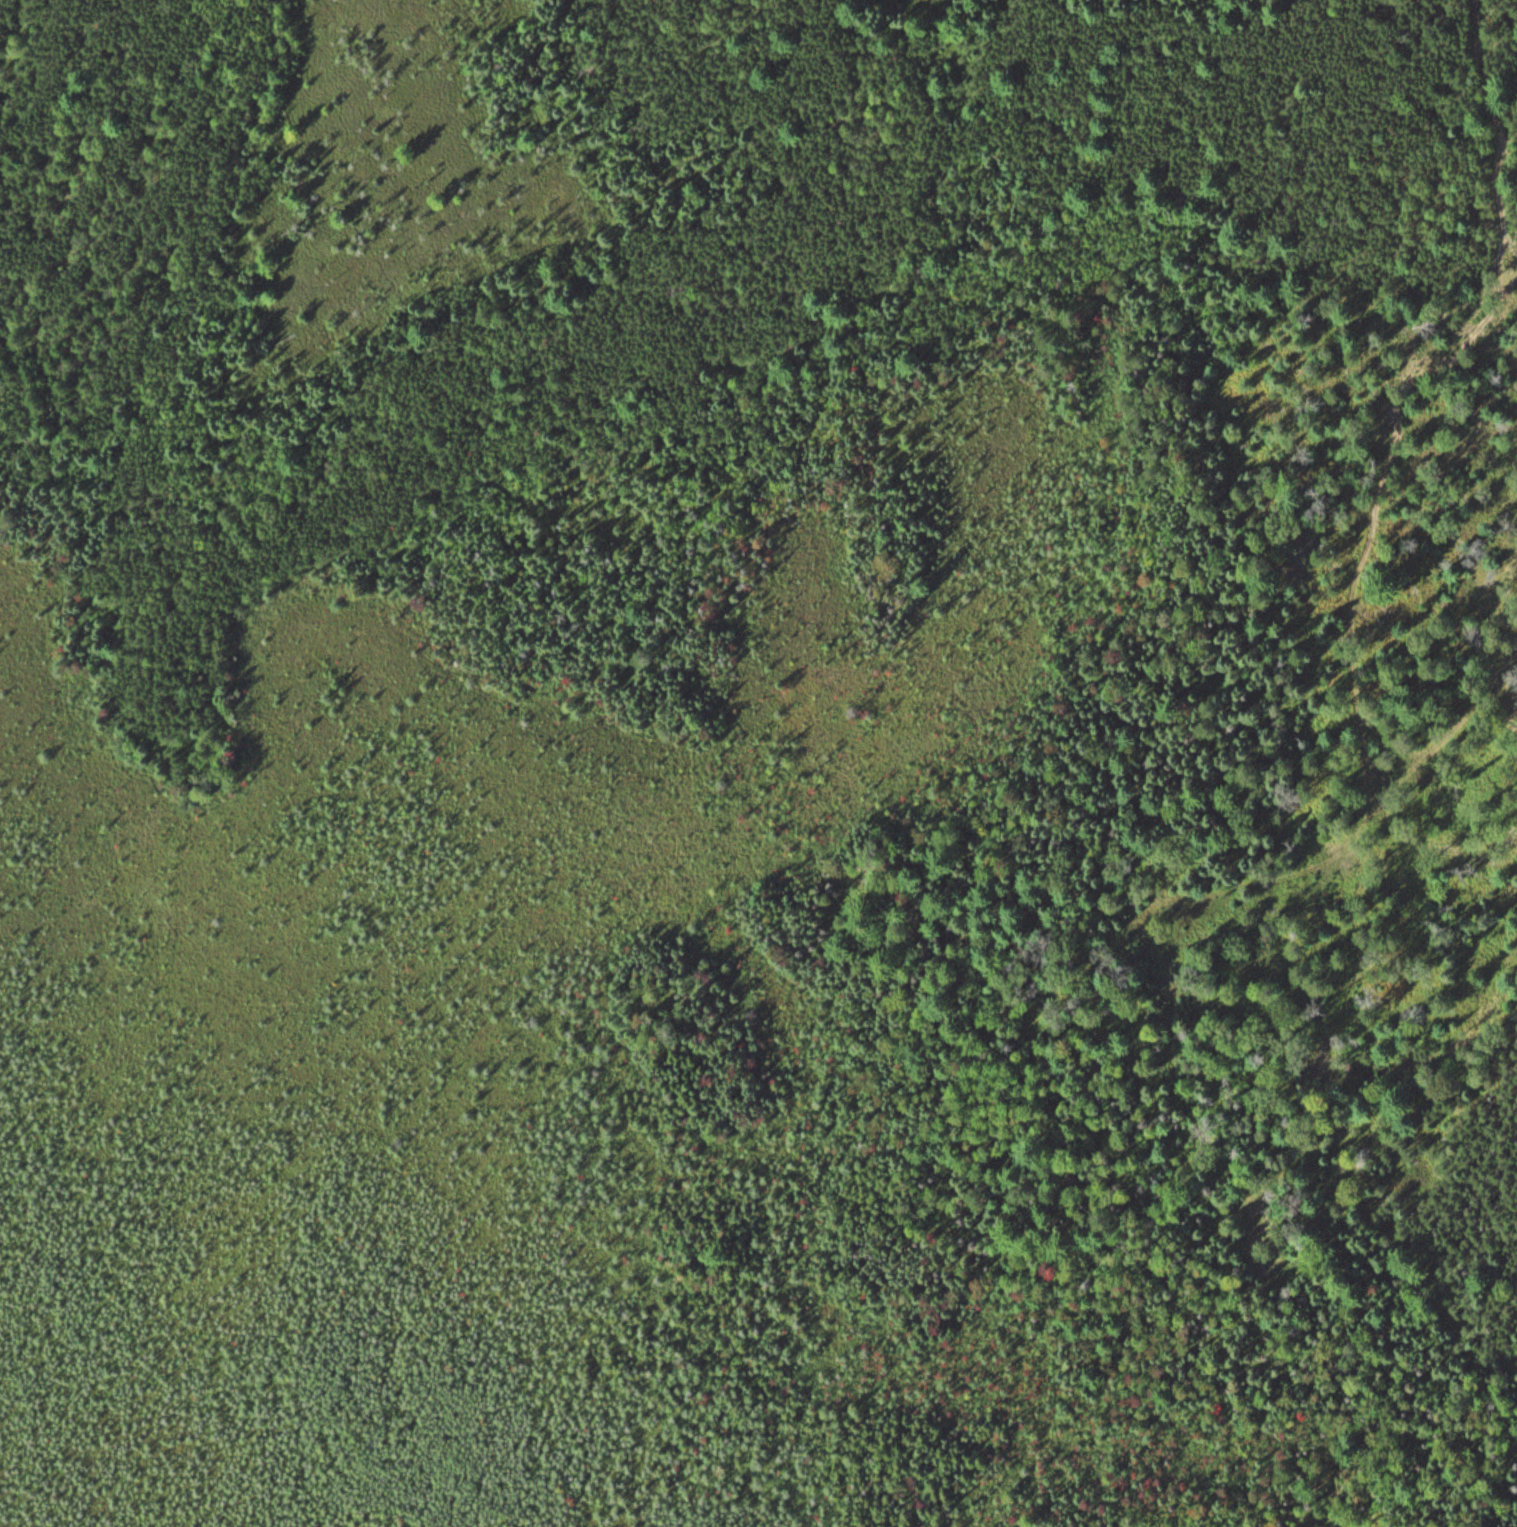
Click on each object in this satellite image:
road: (1489, 159)

